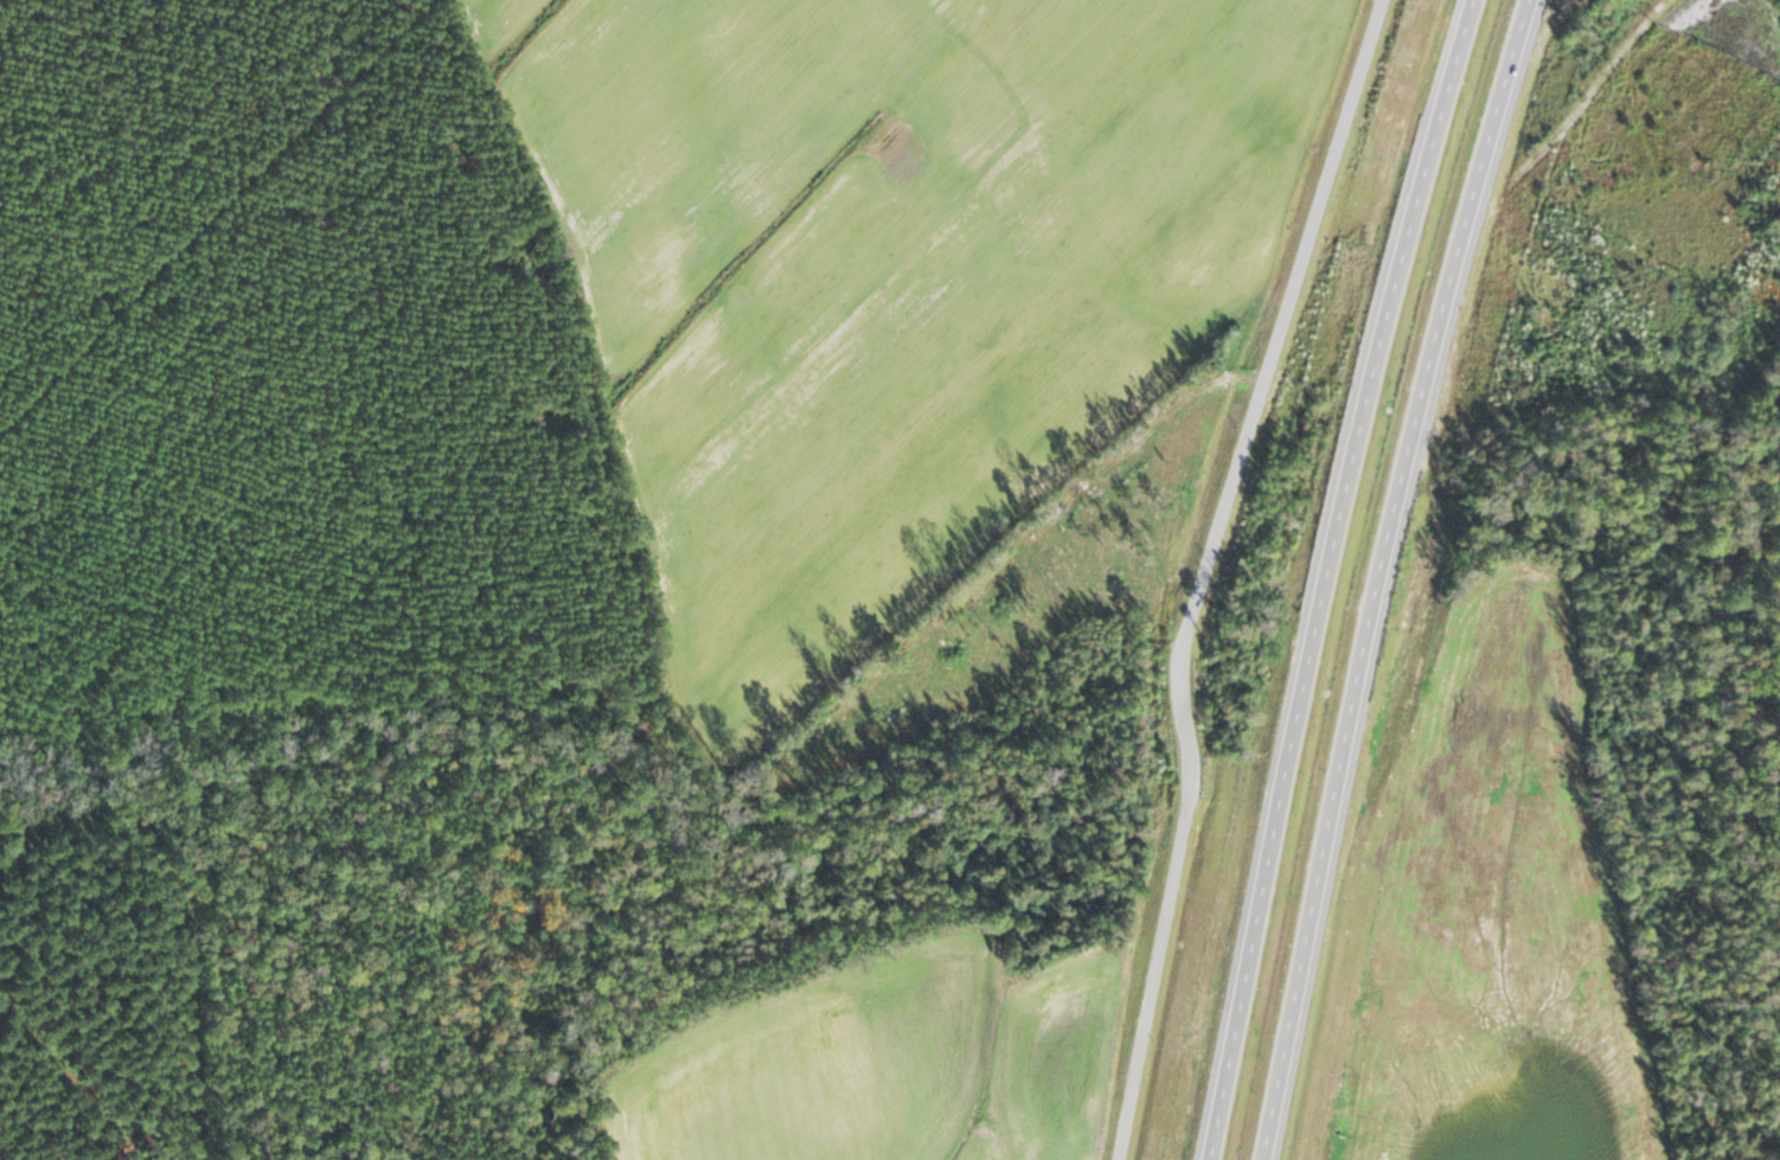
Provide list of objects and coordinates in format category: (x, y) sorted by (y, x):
road: (1659, 9)
building: (1460, 177)
building: (1485, 257)
building: (1537, 275)
road: (1204, 571)
road: (1326, 576)
road: (1378, 576)

